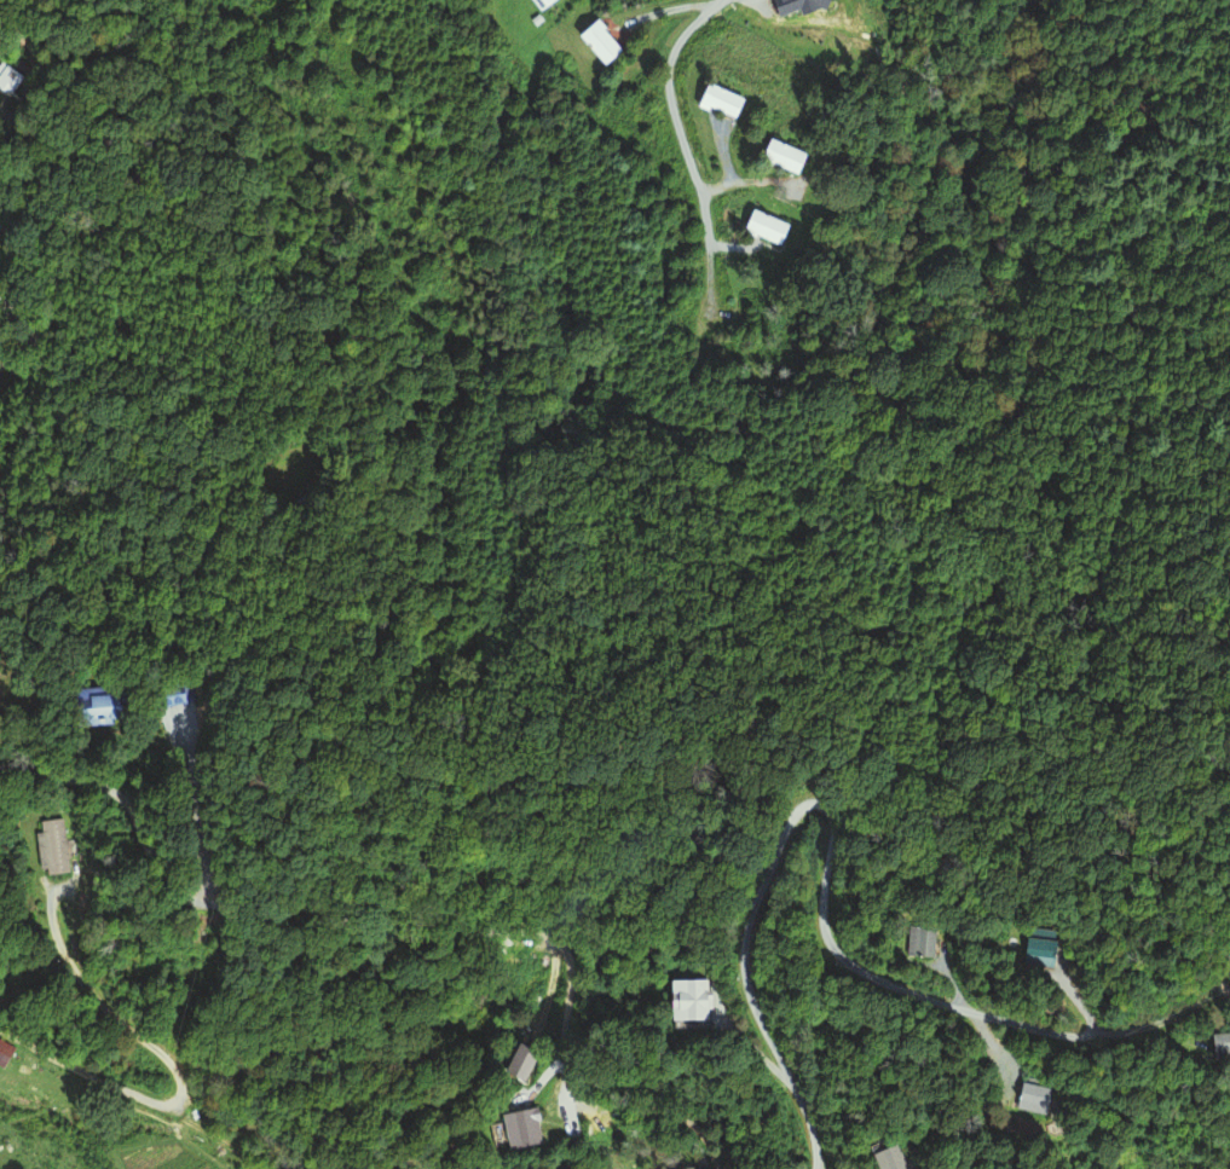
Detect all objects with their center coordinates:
building: (542, 4)
building: (601, 42)
building: (716, 99)
road: (15, 118)
road: (676, 120)
building: (775, 155)
building: (762, 227)
road: (708, 284)
road: (36, 372)
building: (169, 694)
building: (86, 707)
road: (832, 831)
building: (48, 847)
road: (173, 885)
building: (916, 942)
building: (1030, 948)
building: (687, 1001)
road: (99, 1003)
road: (1081, 1003)
road: (1182, 1012)
road: (974, 1022)
road: (565, 1024)
road: (1155, 1041)
building: (1211, 1046)
road: (753, 1051)
building: (521, 1063)
road: (76, 1067)
building: (1018, 1099)
building: (518, 1129)
building: (885, 1158)

